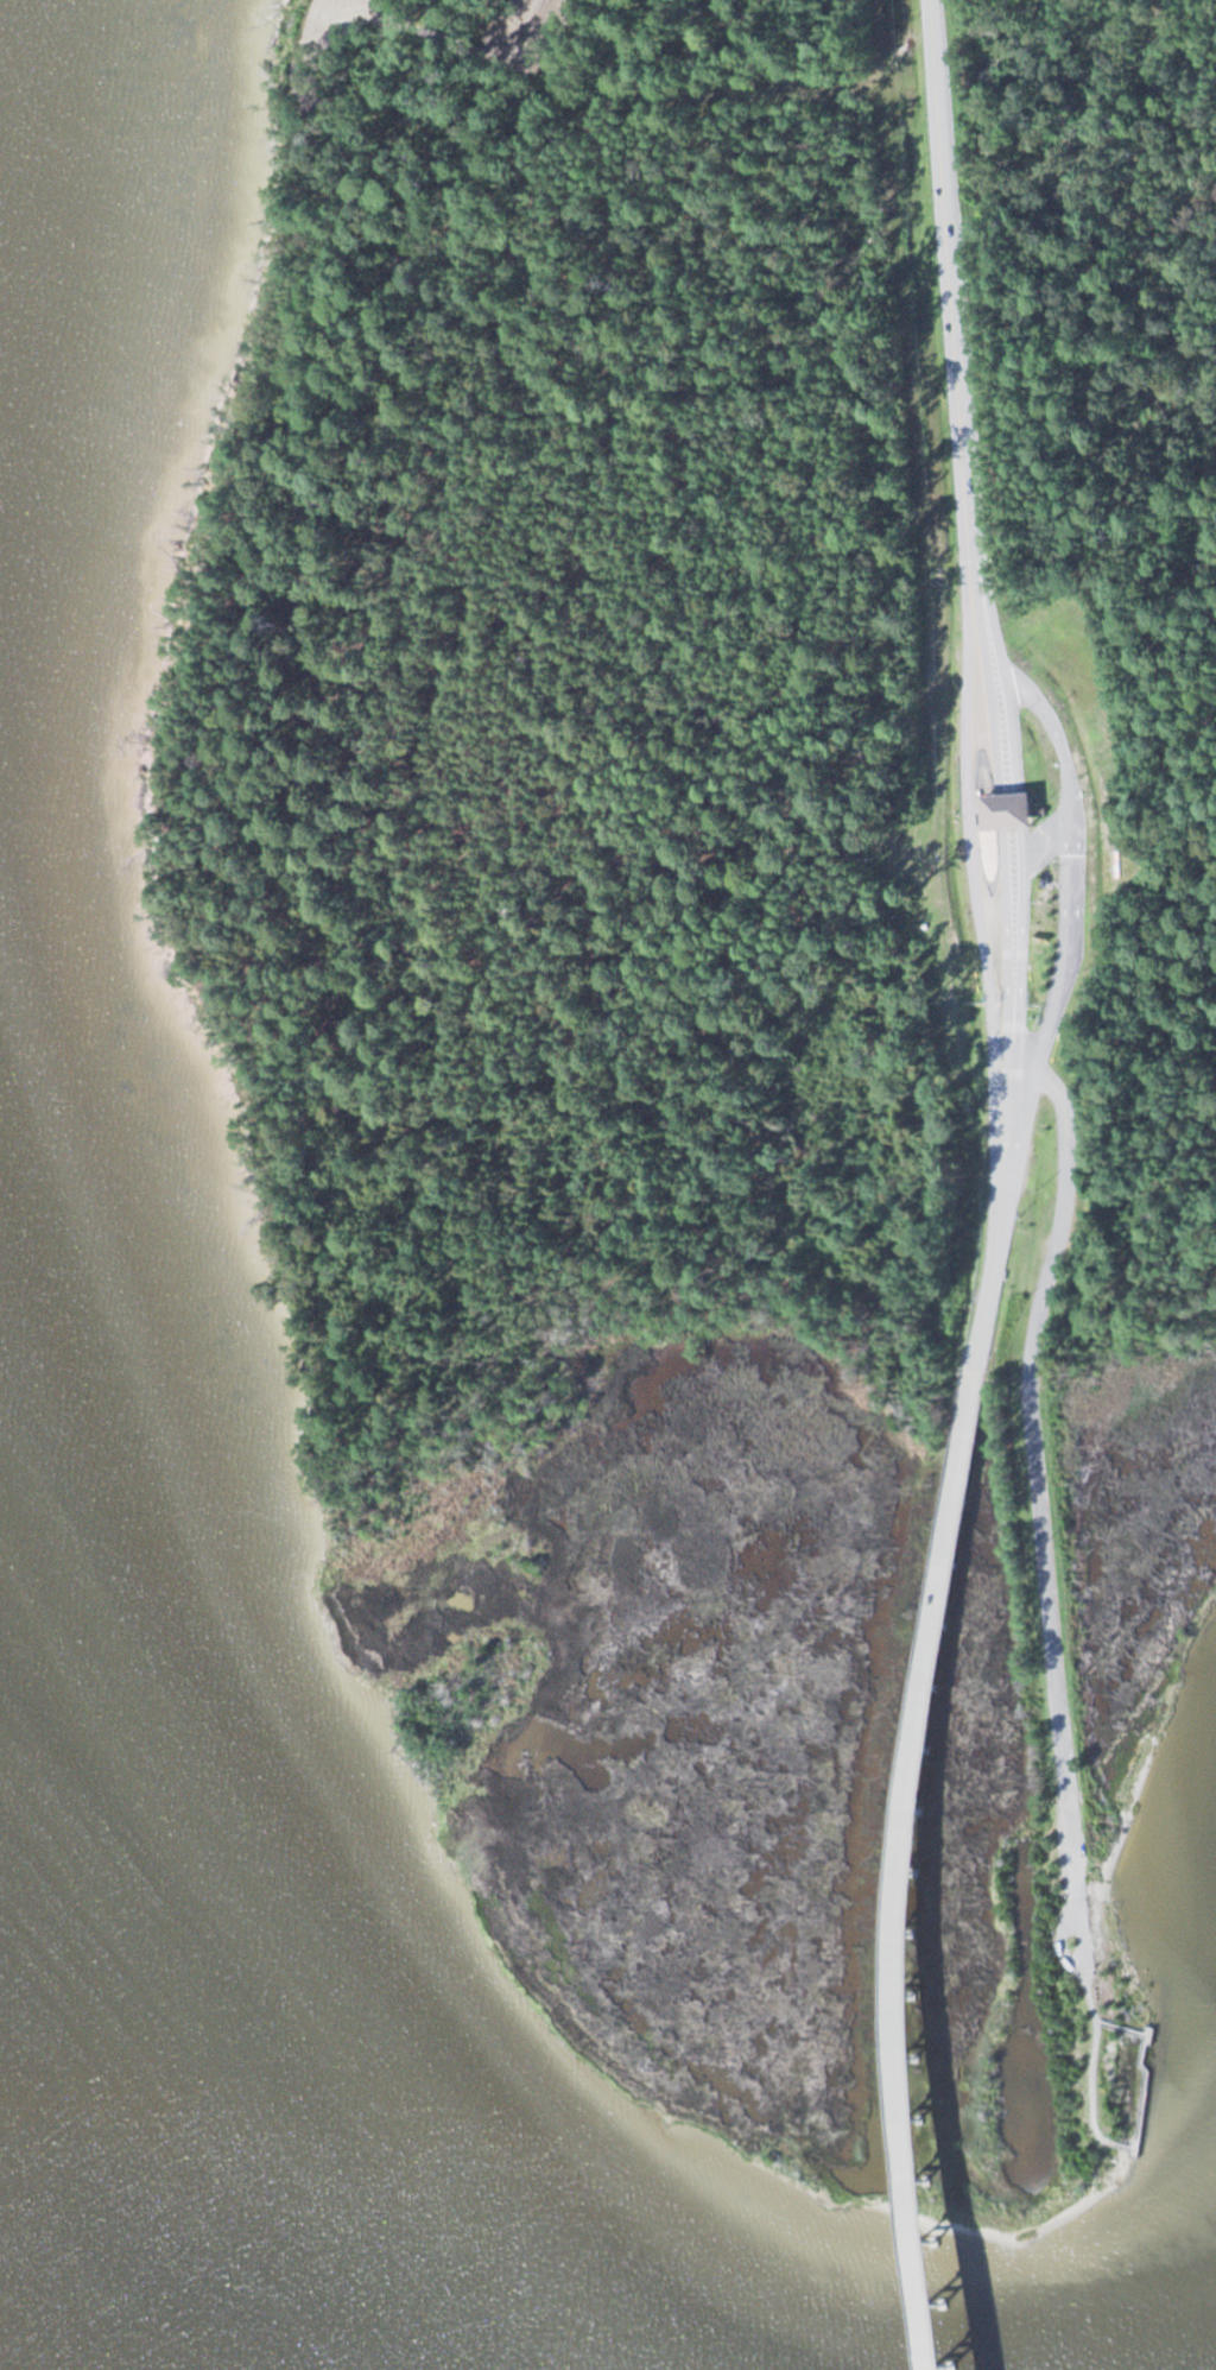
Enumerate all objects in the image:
road: (950, 330)
road: (1070, 942)
road: (999, 956)
road: (975, 1313)
road: (1039, 1508)
road: (879, 1869)
road: (1062, 1939)
road: (1091, 2058)
road: (1146, 2077)

